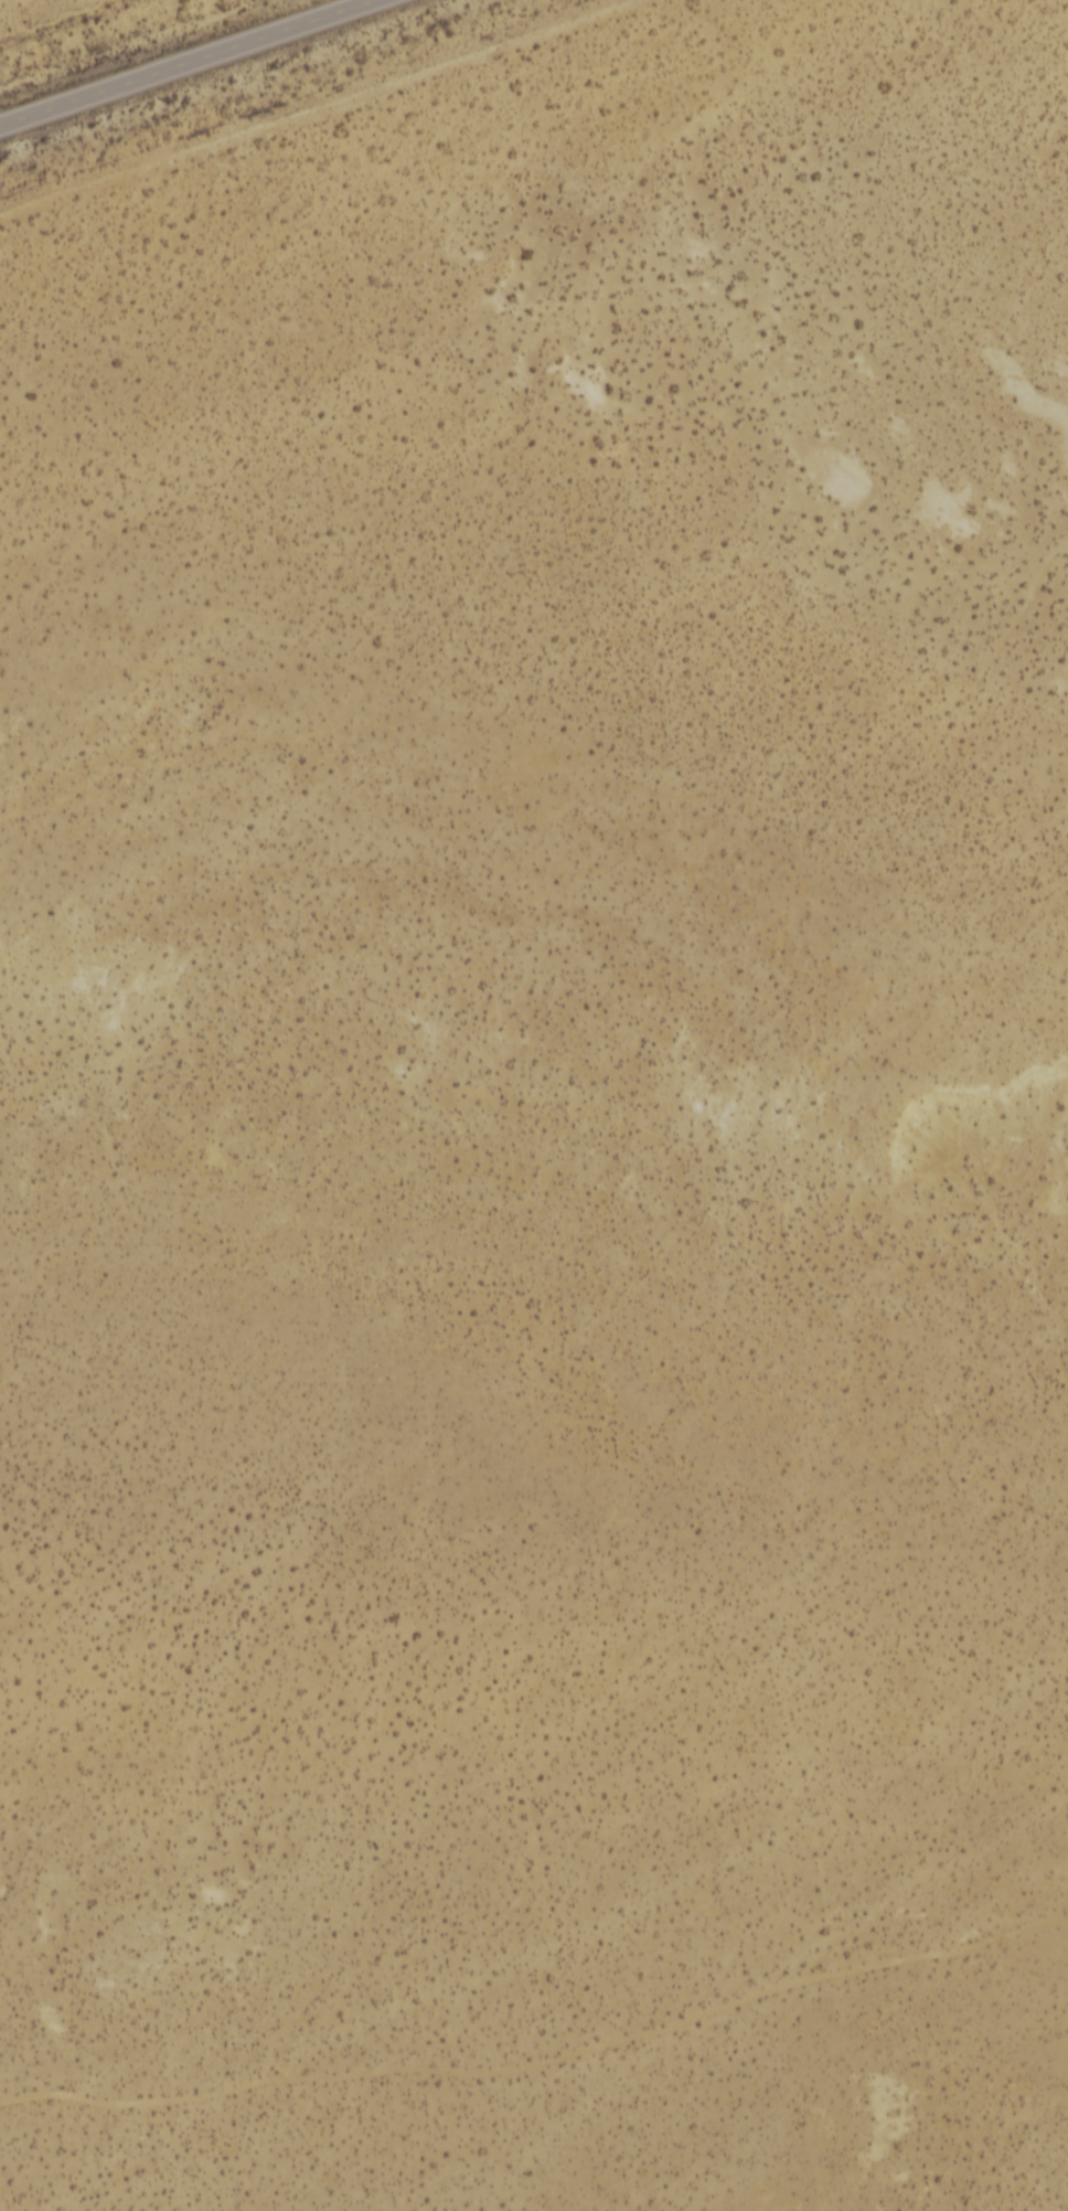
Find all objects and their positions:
road: (182, 61)

